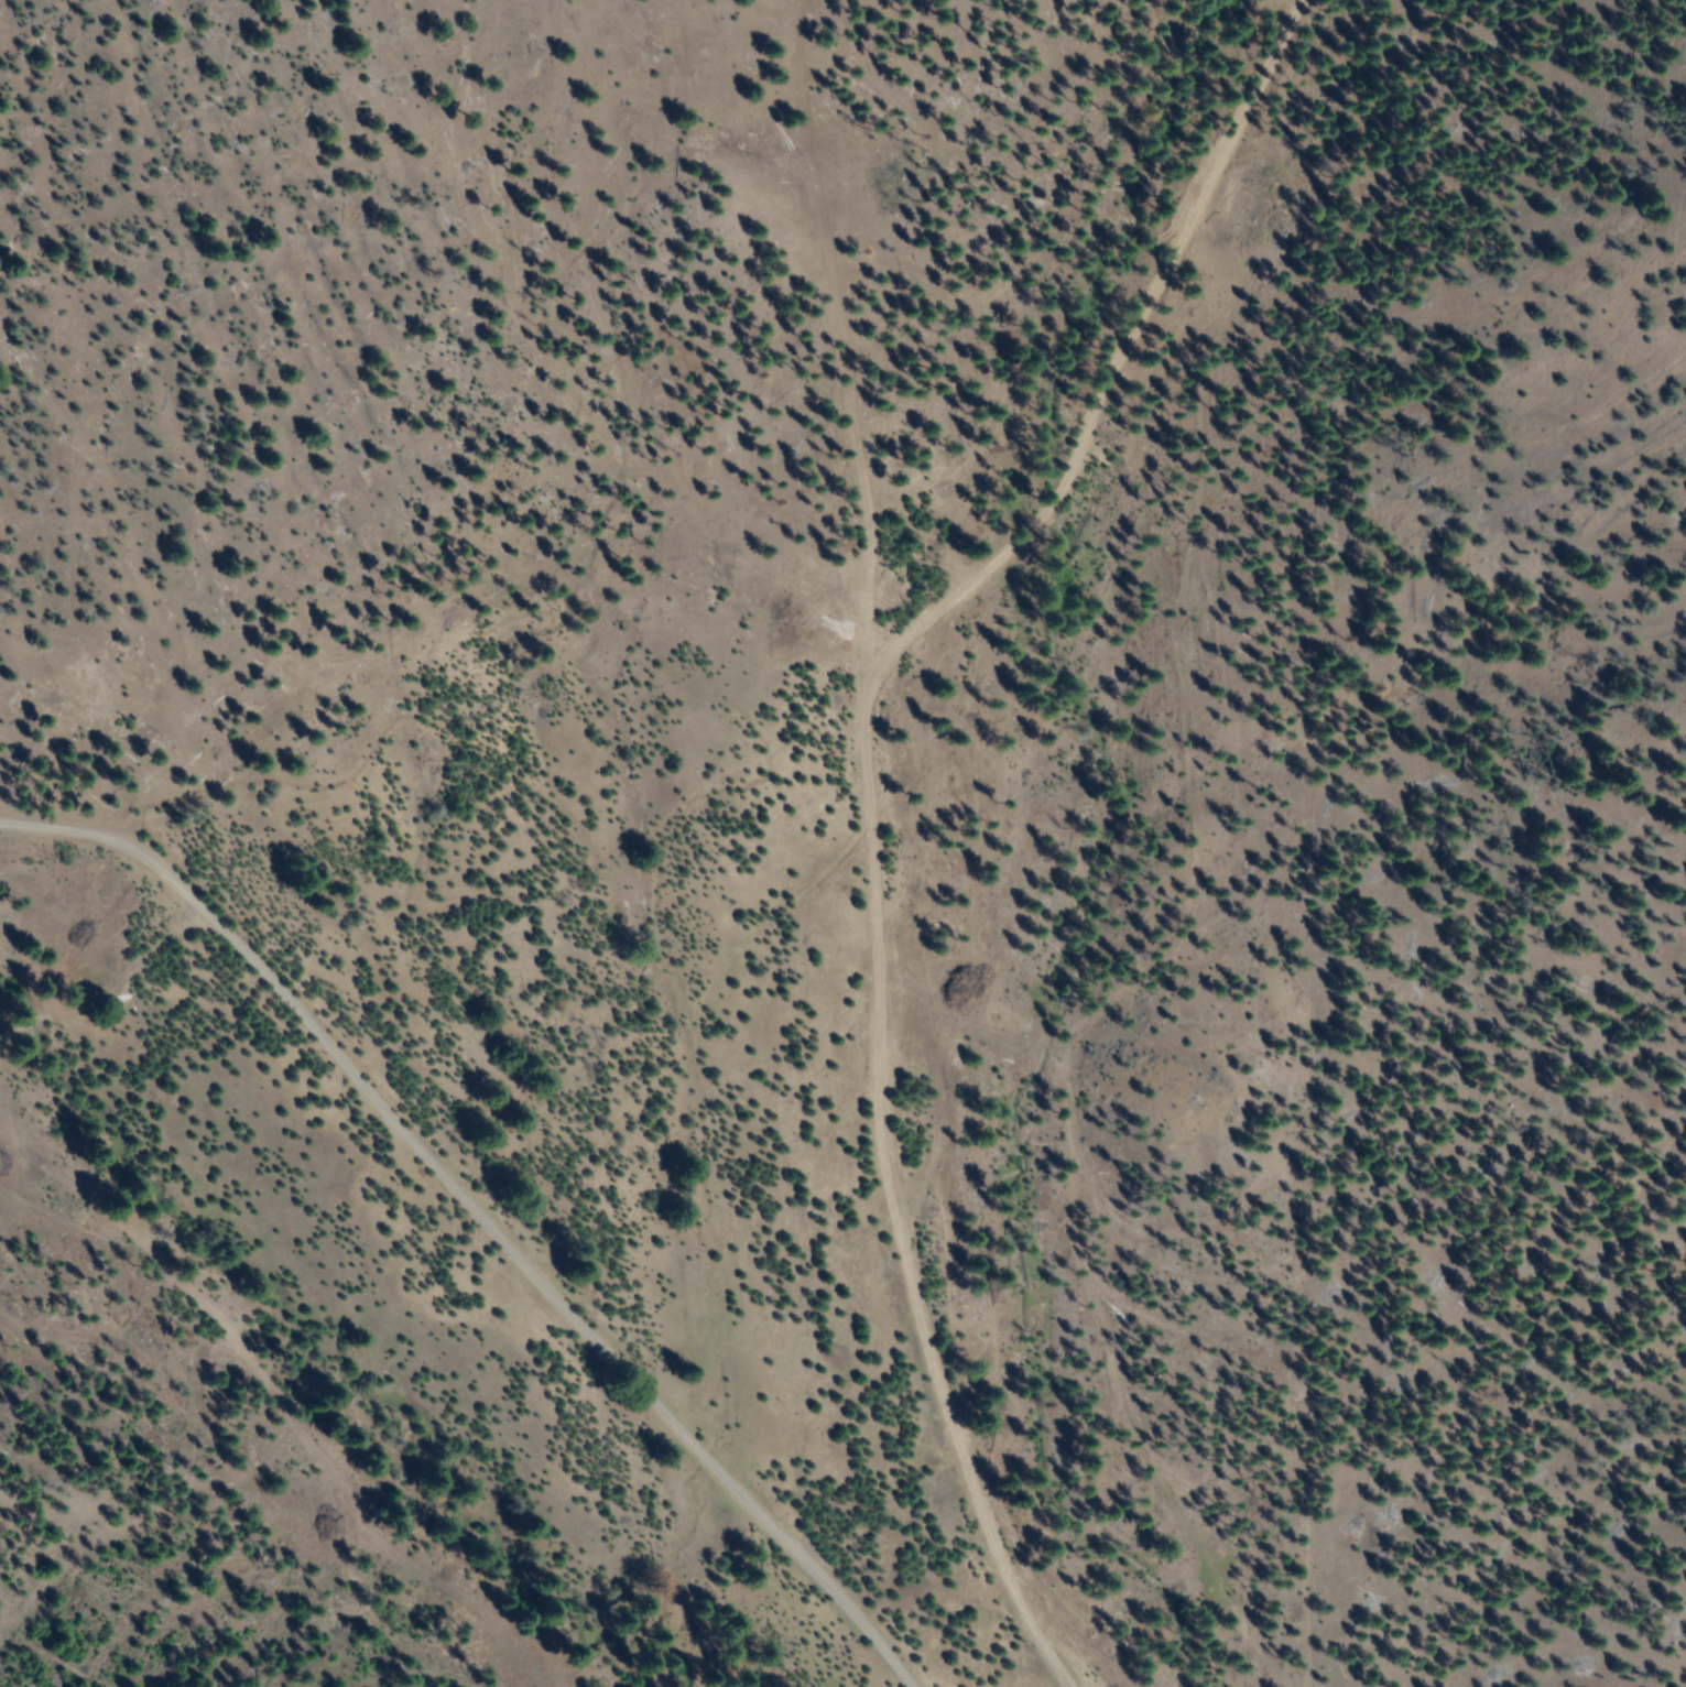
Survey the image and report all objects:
road: (1010, 831)
road: (481, 1216)

